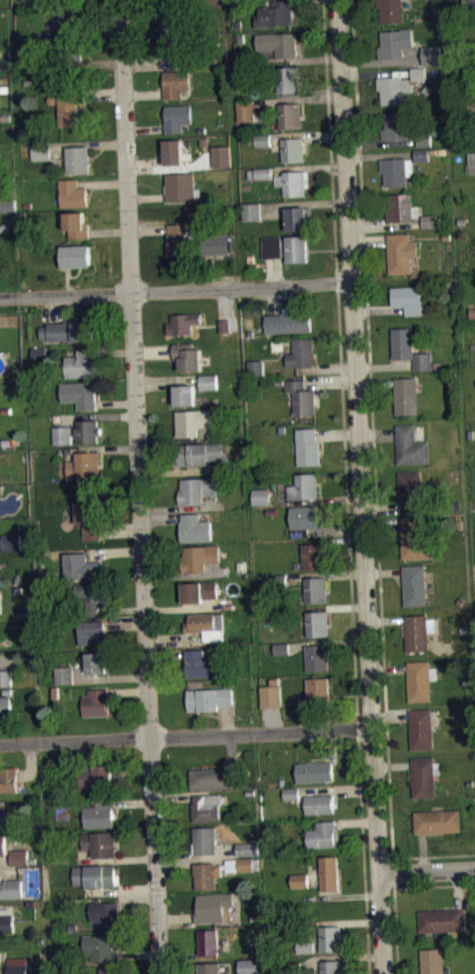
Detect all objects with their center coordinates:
road: (298, 1)
building: (428, 2)
building: (468, 4)
building: (390, 11)
building: (274, 14)
building: (66, 19)
building: (238, 24)
road: (96, 32)
building: (173, 40)
building: (279, 43)
building: (394, 44)
building: (68, 54)
building: (432, 55)
road: (314, 59)
road: (146, 63)
road: (382, 63)
road: (97, 64)
building: (418, 74)
road: (376, 75)
building: (288, 79)
building: (176, 83)
building: (394, 89)
road: (105, 92)
road: (320, 93)
road: (144, 94)
road: (296, 100)
building: (71, 103)
building: (245, 110)
building: (473, 111)
building: (290, 113)
building: (178, 116)
building: (395, 125)
road: (145, 128)
road: (307, 135)
building: (263, 139)
building: (424, 139)
building: (204, 141)
road: (381, 143)
road: (88, 144)
building: (264, 146)
building: (293, 149)
building: (175, 150)
building: (41, 151)
building: (222, 154)
building: (421, 154)
road: (379, 156)
building: (80, 158)
building: (471, 165)
road: (170, 166)
road: (308, 168)
building: (396, 170)
building: (264, 172)
building: (264, 180)
road: (104, 182)
building: (293, 182)
building: (181, 186)
building: (74, 193)
road: (147, 196)
building: (7, 202)
road: (303, 204)
building: (401, 207)
building: (252, 210)
building: (299, 217)
building: (428, 220)
road: (384, 223)
building: (78, 224)
road: (149, 229)
road: (110, 231)
building: (177, 238)
building: (217, 241)
road: (368, 241)
building: (272, 246)
building: (298, 247)
building: (401, 251)
building: (77, 255)
road: (210, 270)
road: (274, 271)
road: (68, 281)
road: (175, 290)
building: (407, 298)
road: (273, 300)
road: (224, 304)
road: (55, 308)
road: (378, 310)
building: (288, 320)
building: (184, 323)
building: (225, 325)
building: (69, 329)
building: (226, 332)
building: (402, 343)
road: (154, 351)
building: (39, 352)
road: (114, 352)
building: (301, 352)
building: (188, 355)
building: (423, 360)
building: (81, 362)
road: (384, 366)
building: (256, 367)
road: (326, 368)
building: (256, 374)
road: (168, 381)
building: (209, 381)
building: (279, 381)
road: (329, 381)
road: (374, 383)
building: (209, 388)
building: (185, 393)
building: (80, 394)
building: (405, 395)
building: (301, 396)
road: (116, 403)
road: (95, 416)
building: (192, 420)
building: (88, 431)
road: (336, 433)
road: (376, 434)
building: (62, 435)
road: (373, 436)
road: (166, 439)
building: (411, 445)
building: (308, 446)
road: (109, 447)
building: (199, 453)
road: (344, 460)
building: (83, 464)
road: (180, 471)
building: (303, 486)
road: (139, 487)
road: (359, 487)
building: (198, 488)
building: (410, 490)
building: (261, 496)
road: (314, 500)
road: (380, 507)
road: (182, 508)
building: (271, 510)
road: (162, 517)
building: (90, 518)
building: (303, 518)
road: (381, 526)
building: (196, 527)
road: (121, 530)
road: (334, 530)
road: (343, 540)
building: (415, 540)
building: (11, 543)
road: (1, 546)
road: (115, 551)
building: (313, 554)
building: (199, 556)
building: (82, 566)
road: (214, 567)
road: (384, 572)
road: (325, 574)
road: (182, 575)
building: (278, 579)
building: (415, 584)
building: (316, 589)
building: (198, 590)
building: (91, 595)
road: (345, 607)
road: (182, 608)
road: (121, 609)
building: (24, 612)
road: (9, 614)
road: (386, 619)
building: (317, 622)
road: (125, 625)
building: (207, 625)
building: (93, 631)
building: (418, 632)
road: (174, 638)
road: (327, 641)
building: (281, 647)
road: (166, 654)
building: (317, 657)
building: (96, 660)
building: (202, 664)
road: (387, 668)
building: (64, 673)
road: (110, 677)
building: (5, 678)
building: (421, 679)
building: (7, 691)
road: (127, 691)
building: (316, 692)
building: (271, 694)
building: (208, 698)
building: (96, 701)
building: (5, 706)
road: (390, 717)
road: (271, 718)
road: (226, 719)
building: (422, 728)
road: (185, 735)
road: (329, 744)
road: (230, 751)
road: (30, 764)
road: (393, 765)
road: (131, 769)
building: (314, 771)
building: (96, 776)
building: (424, 776)
building: (212, 778)
building: (8, 779)
road: (336, 790)
building: (291, 793)
road: (171, 795)
building: (292, 800)
road: (132, 802)
building: (320, 803)
building: (204, 809)
building: (99, 813)
building: (4, 819)
building: (438, 821)
road: (355, 823)
building: (323, 834)
building: (204, 840)
building: (99, 843)
building: (2, 845)
building: (247, 848)
road: (422, 852)
building: (248, 855)
building: (19, 856)
road: (196, 856)
road: (434, 856)
road: (5, 859)
road: (124, 860)
road: (172, 862)
building: (20, 864)
building: (245, 864)
road: (6, 870)
building: (240, 871)
road: (427, 871)
building: (330, 872)
building: (206, 874)
building: (95, 875)
building: (301, 879)
road: (393, 880)
road: (434, 885)
building: (11, 887)
building: (301, 887)
road: (458, 889)
road: (123, 890)
road: (347, 895)
road: (135, 897)
building: (211, 906)
building: (105, 912)
road: (175, 918)
building: (443, 920)
road: (351, 921)
building: (6, 922)
road: (396, 930)
building: (330, 937)
building: (207, 941)
building: (305, 945)
building: (100, 946)
road: (368, 947)
building: (0, 951)
building: (306, 953)
road: (138, 954)
road: (339, 956)
road: (175, 957)
building: (434, 961)
building: (249, 966)
building: (333, 966)
building: (209, 967)
building: (293, 967)
building: (17, 969)
building: (109, 970)

